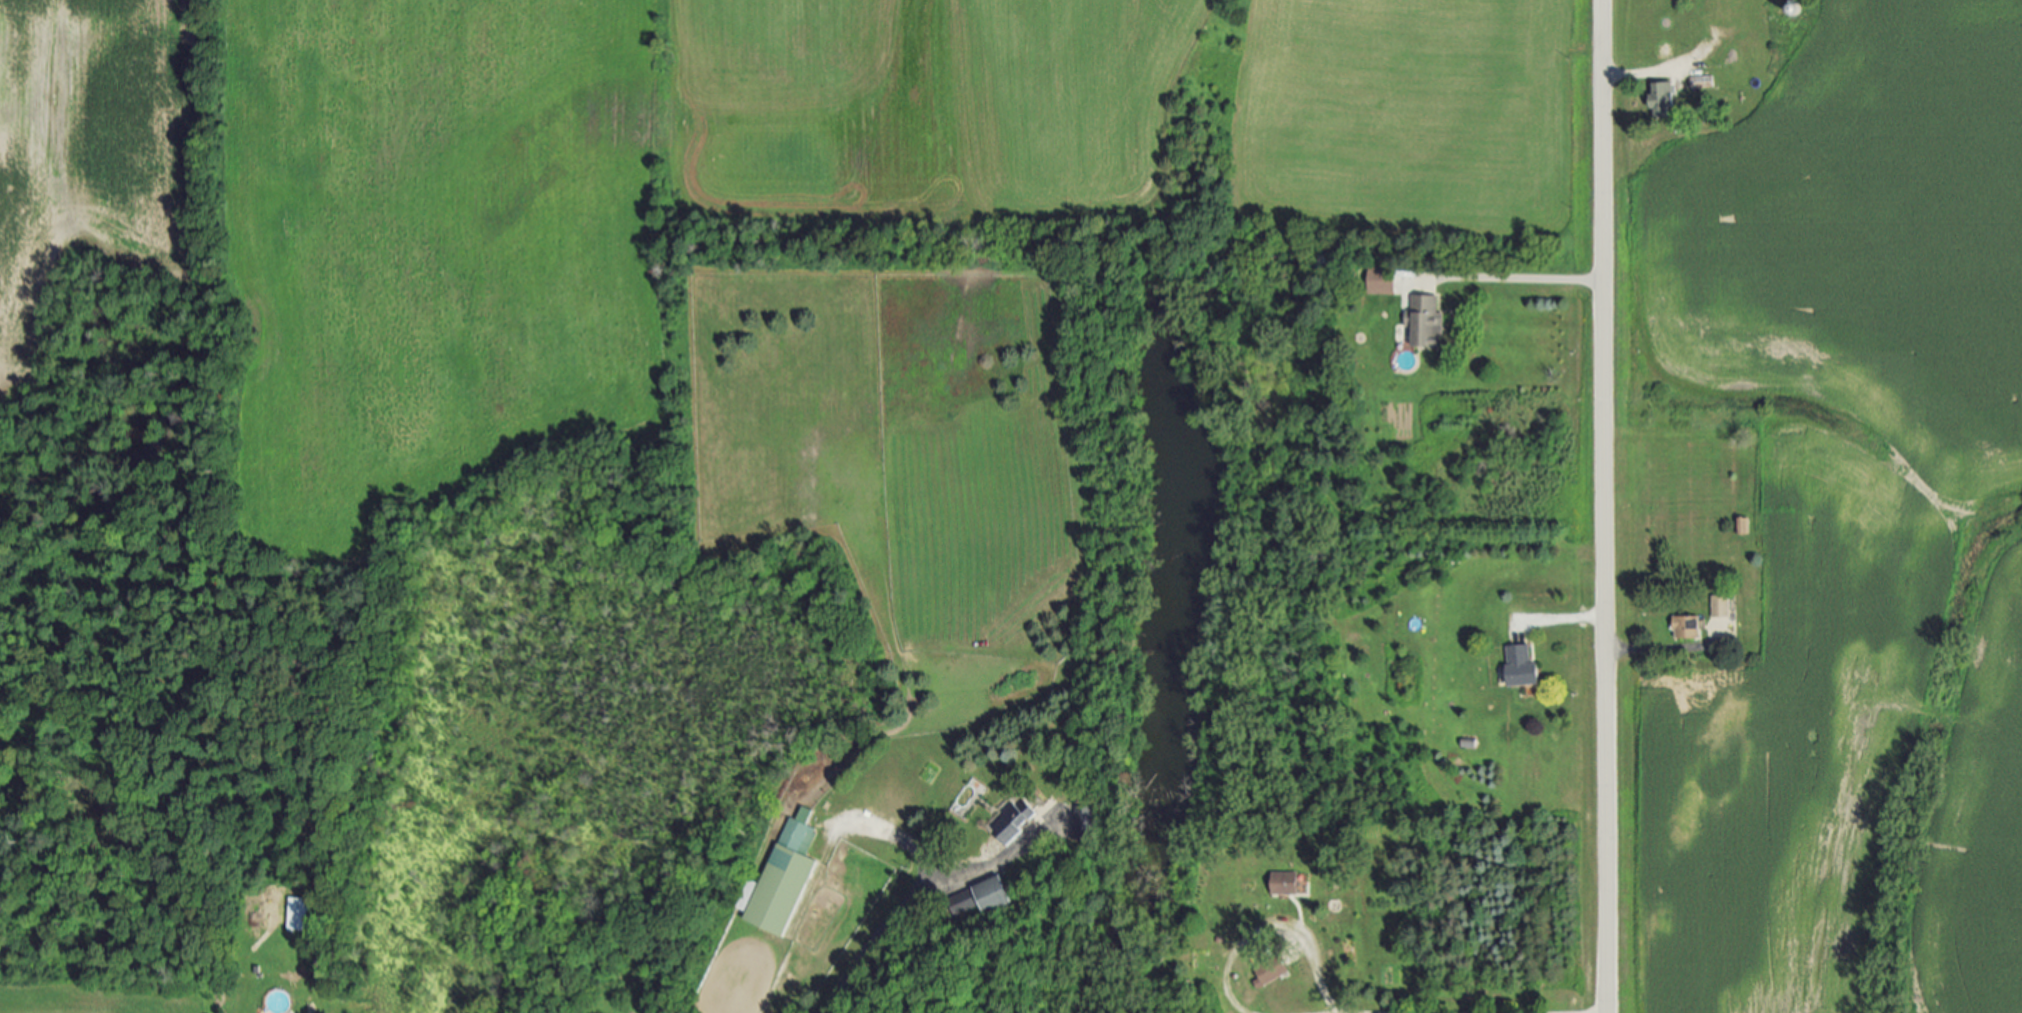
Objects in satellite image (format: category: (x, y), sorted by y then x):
road: (1649, 73)
building: (1704, 81)
building: (1665, 98)
building: (1385, 280)
road: (1528, 281)
road: (1603, 506)
building: (1743, 525)
building: (1722, 606)
road: (1564, 619)
building: (1689, 626)
road: (1659, 648)
building: (1525, 665)
building: (1016, 823)
building: (1087, 823)
road: (887, 838)
building: (786, 876)
building: (1286, 883)
building: (997, 893)
road: (897, 906)
building: (300, 913)
road: (1270, 929)
building: (1270, 971)

